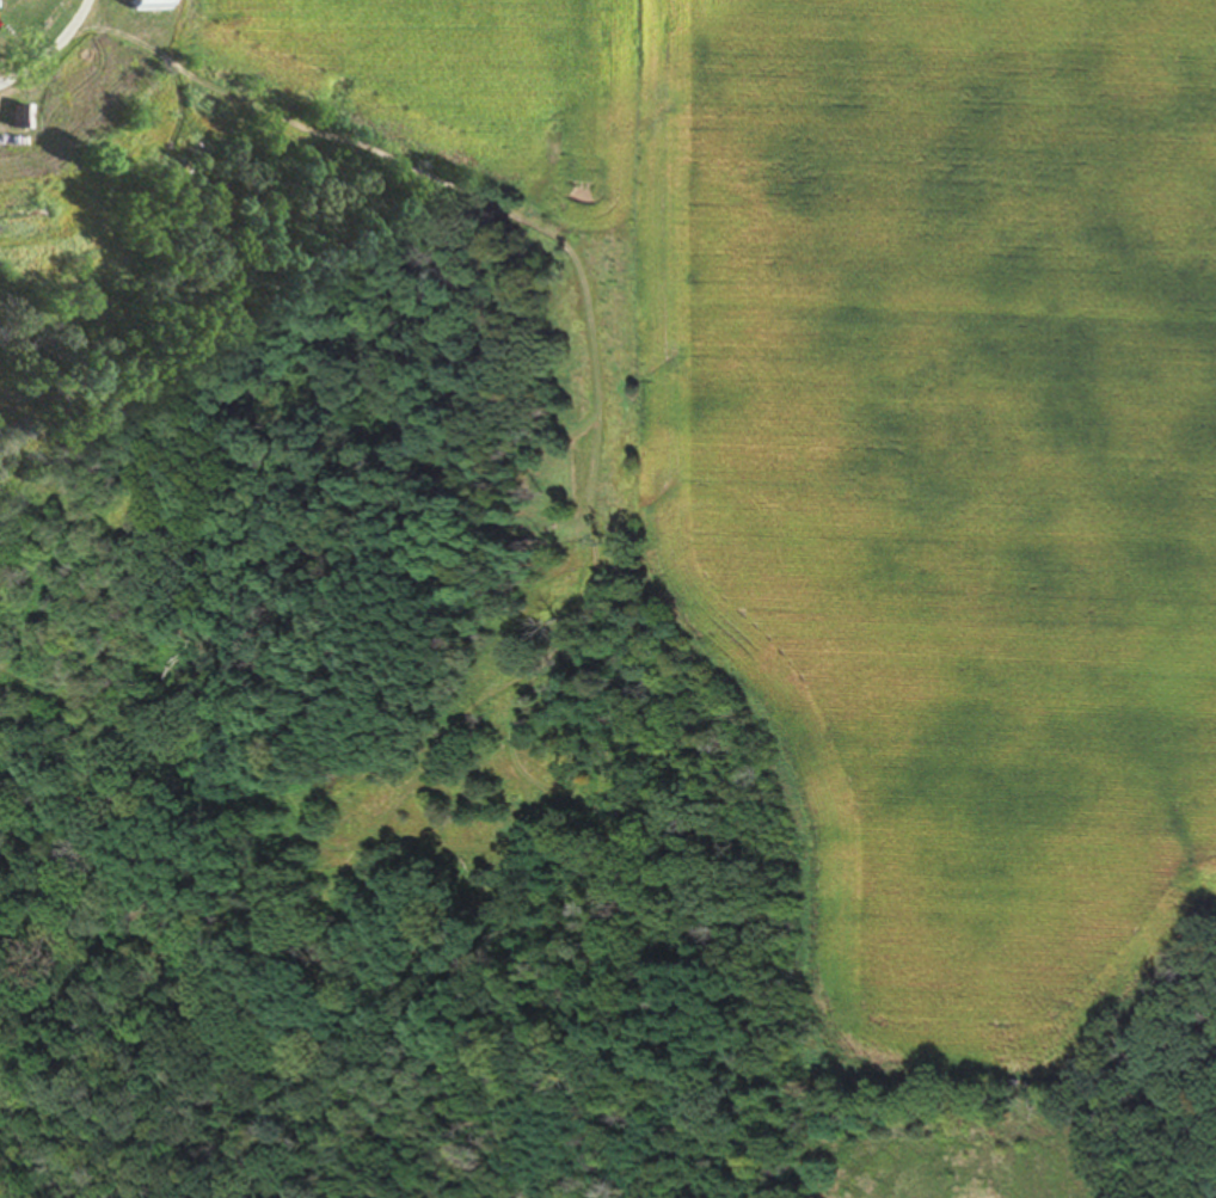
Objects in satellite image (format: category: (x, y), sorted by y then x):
building: (153, 5)
road: (56, 53)
building: (27, 117)

